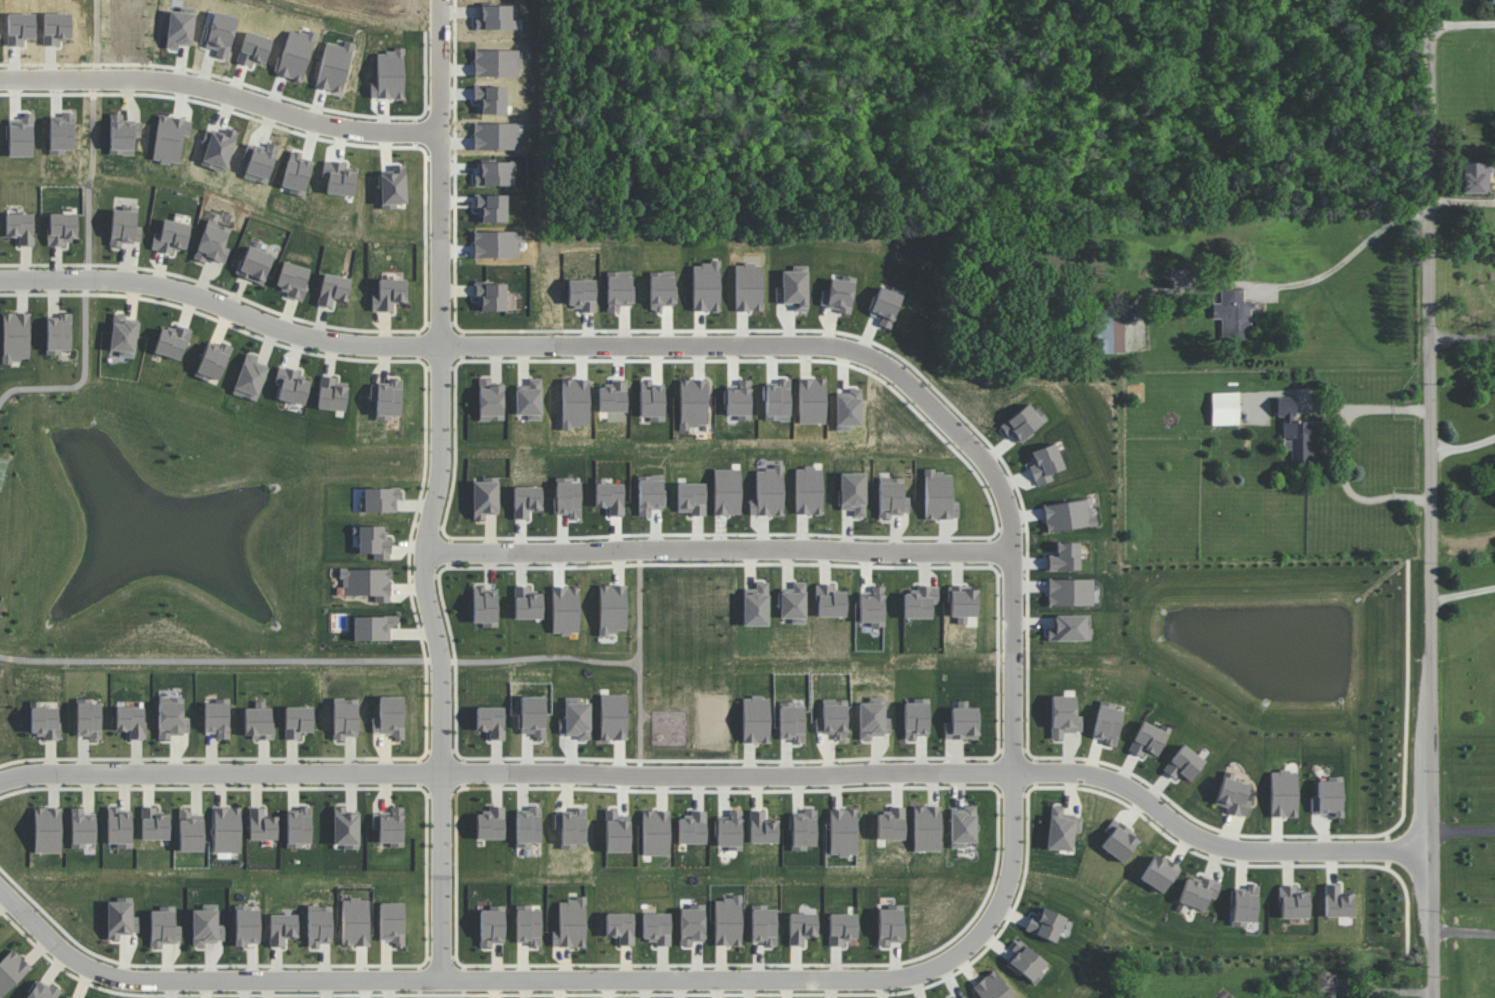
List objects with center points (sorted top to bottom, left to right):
road: (1461, 23)
park: (118, 31)
road: (97, 36)
road: (96, 83)
road: (221, 97)
road: (438, 120)
building: (1476, 177)
road: (91, 183)
road: (1458, 201)
building: (24, 226)
building: (124, 226)
building: (67, 227)
building: (171, 236)
building: (213, 243)
road: (1336, 263)
building: (255, 264)
building: (293, 280)
road: (89, 282)
building: (333, 289)
building: (496, 293)
building: (389, 294)
road: (254, 303)
building: (1233, 314)
road: (440, 324)
building: (63, 332)
building: (1110, 332)
building: (20, 333)
building: (128, 333)
road: (1463, 336)
building: (180, 338)
road: (325, 342)
road: (873, 343)
road: (418, 345)
road: (462, 346)
building: (218, 358)
road: (766, 359)
road: (440, 367)
building: (250, 377)
road: (81, 382)
building: (297, 384)
building: (336, 391)
building: (387, 399)
building: (490, 401)
building: (1225, 408)
building: (1298, 433)
road: (969, 439)
road: (1465, 445)
road: (455, 455)
road: (1342, 456)
building: (1045, 463)
park: (4, 474)
building: (488, 493)
building: (384, 496)
building: (891, 498)
road: (1435, 499)
building: (526, 500)
building: (1068, 515)
park: (159, 535)
road: (721, 536)
building: (379, 539)
road: (994, 549)
road: (718, 550)
road: (448, 552)
road: (409, 554)
road: (719, 566)
building: (372, 580)
road: (1462, 594)
building: (830, 601)
building: (487, 602)
building: (920, 602)
building: (794, 603)
building: (756, 605)
building: (873, 607)
building: (612, 608)
road: (430, 609)
road: (640, 615)
building: (375, 625)
building: (1070, 627)
road: (227, 660)
road: (602, 661)
park: (687, 664)
building: (394, 710)
building: (220, 713)
building: (92, 716)
building: (1064, 716)
building: (47, 717)
building: (176, 717)
building: (344, 718)
building: (575, 718)
building: (832, 718)
building: (872, 718)
building: (261, 719)
building: (494, 719)
building: (134, 720)
building: (302, 720)
building: (962, 722)
building: (1107, 723)
building: (1148, 740)
road: (1013, 749)
road: (441, 751)
road: (727, 761)
building: (1184, 763)
road: (1035, 771)
road: (463, 772)
road: (725, 772)
road: (991, 772)
road: (419, 773)
road: (979, 787)
building: (1283, 793)
road: (1013, 795)
building: (1233, 795)
building: (1328, 797)
building: (394, 823)
building: (495, 823)
building: (154, 824)
building: (87, 825)
building: (266, 825)
building: (963, 826)
building: (52, 827)
building: (119, 827)
building: (231, 827)
building: (298, 827)
building: (571, 827)
building: (345, 828)
building: (692, 828)
building: (762, 828)
building: (1061, 828)
building: (803, 830)
building: (191, 831)
building: (730, 831)
road: (1463, 831)
building: (655, 832)
road: (1339, 836)
road: (1387, 849)
road: (1249, 863)
building: (1159, 873)
building: (1199, 891)
road: (426, 893)
building: (1337, 902)
building: (1293, 903)
building: (1244, 905)
building: (121, 918)
building: (727, 921)
building: (355, 922)
building: (392, 922)
building: (570, 923)
building: (691, 924)
building: (763, 924)
building: (1046, 924)
building: (206, 925)
building: (247, 925)
building: (319, 925)
building: (491, 925)
building: (528, 925)
building: (890, 925)
building: (163, 927)
building: (620, 927)
building: (801, 927)
building: (282, 928)
building: (656, 928)
building: (842, 928)
building: (0, 931)
road: (1465, 931)
road: (441, 957)
building: (1026, 963)
building: (14, 970)
road: (420, 979)
road: (464, 979)
road: (564, 979)
building: (1325, 981)
building: (992, 986)
building: (42, 990)
road: (1387, 990)
road: (573, 994)
building: (963, 996)
building: (70, 997)

